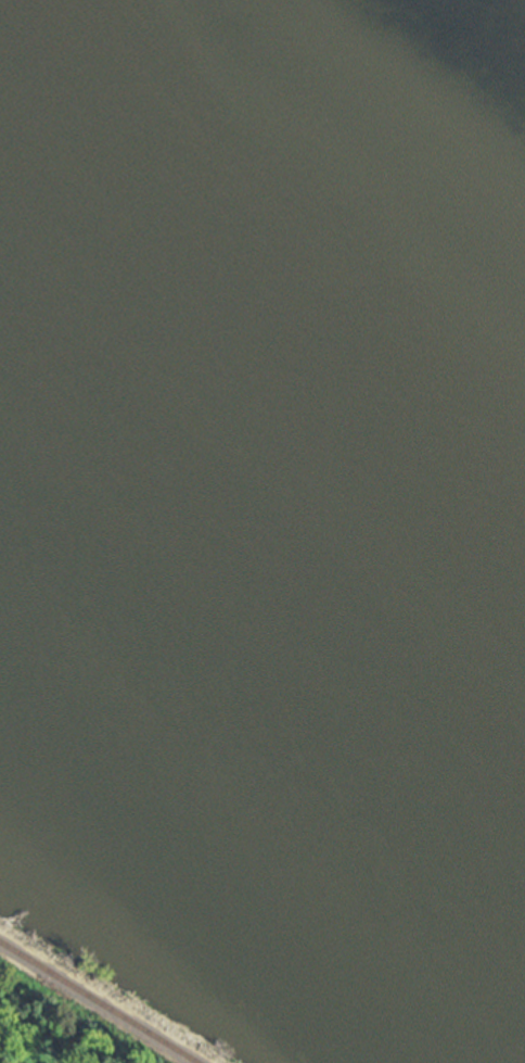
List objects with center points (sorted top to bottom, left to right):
railway: (97, 1001)

